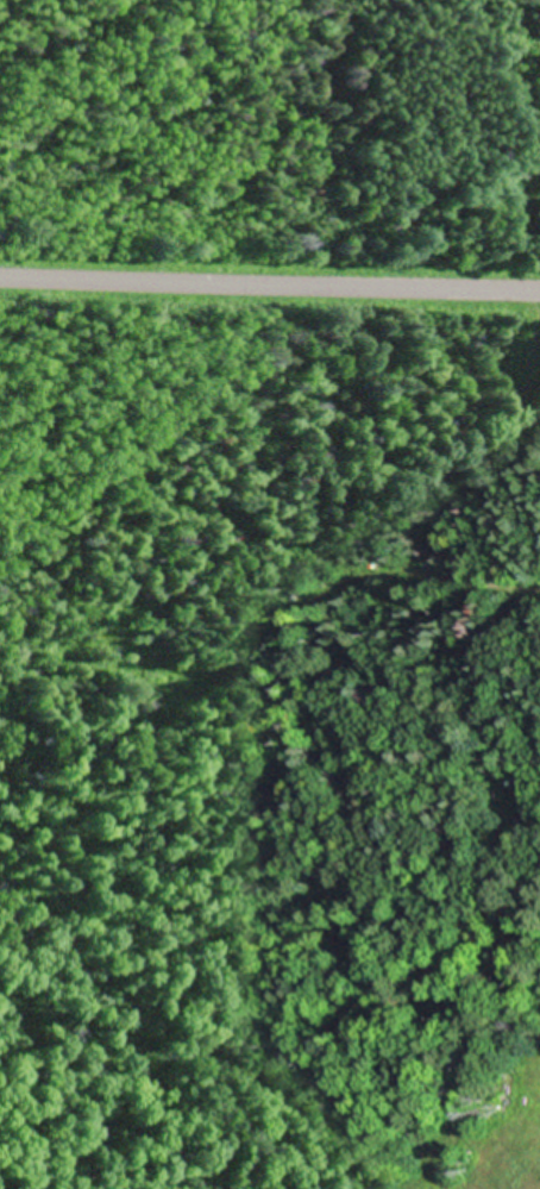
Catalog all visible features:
road: (269, 284)

